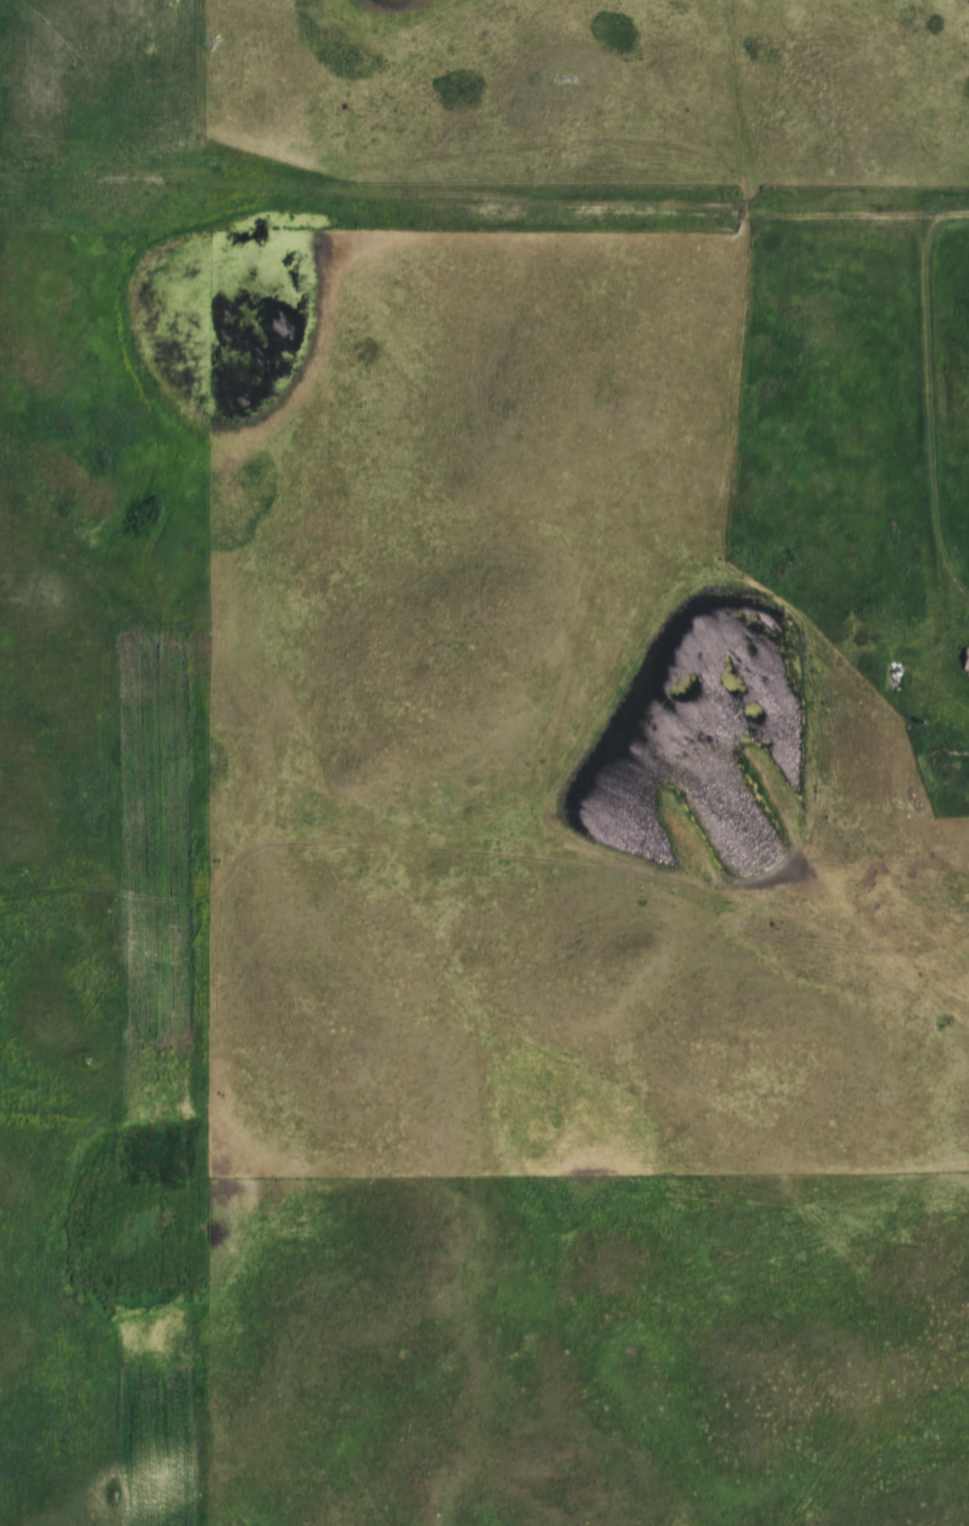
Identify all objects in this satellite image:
road: (941, 217)
building: (966, 659)

